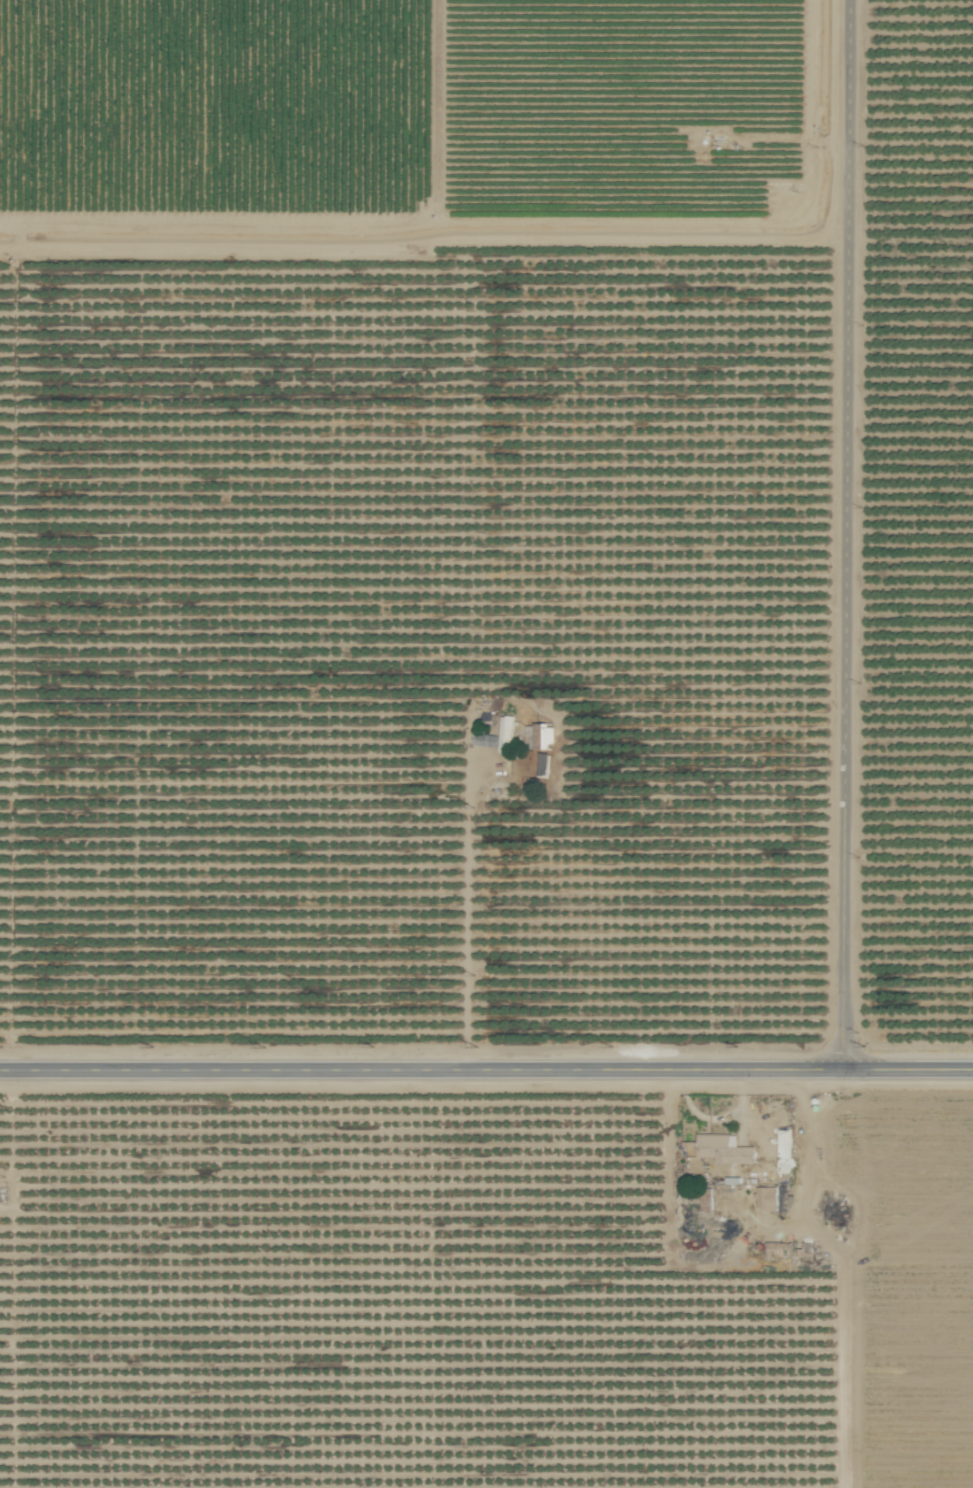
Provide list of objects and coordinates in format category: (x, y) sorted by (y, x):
road: (845, 536)
building: (541, 735)
crop: (486, 744)
building: (128, 799)
road: (470, 910)
road: (486, 1070)
building: (785, 1149)
building: (723, 1150)
building: (768, 1199)
building: (707, 1200)
building: (833, 1210)
building: (790, 1248)
road: (842, 1269)
road: (12, 1279)

